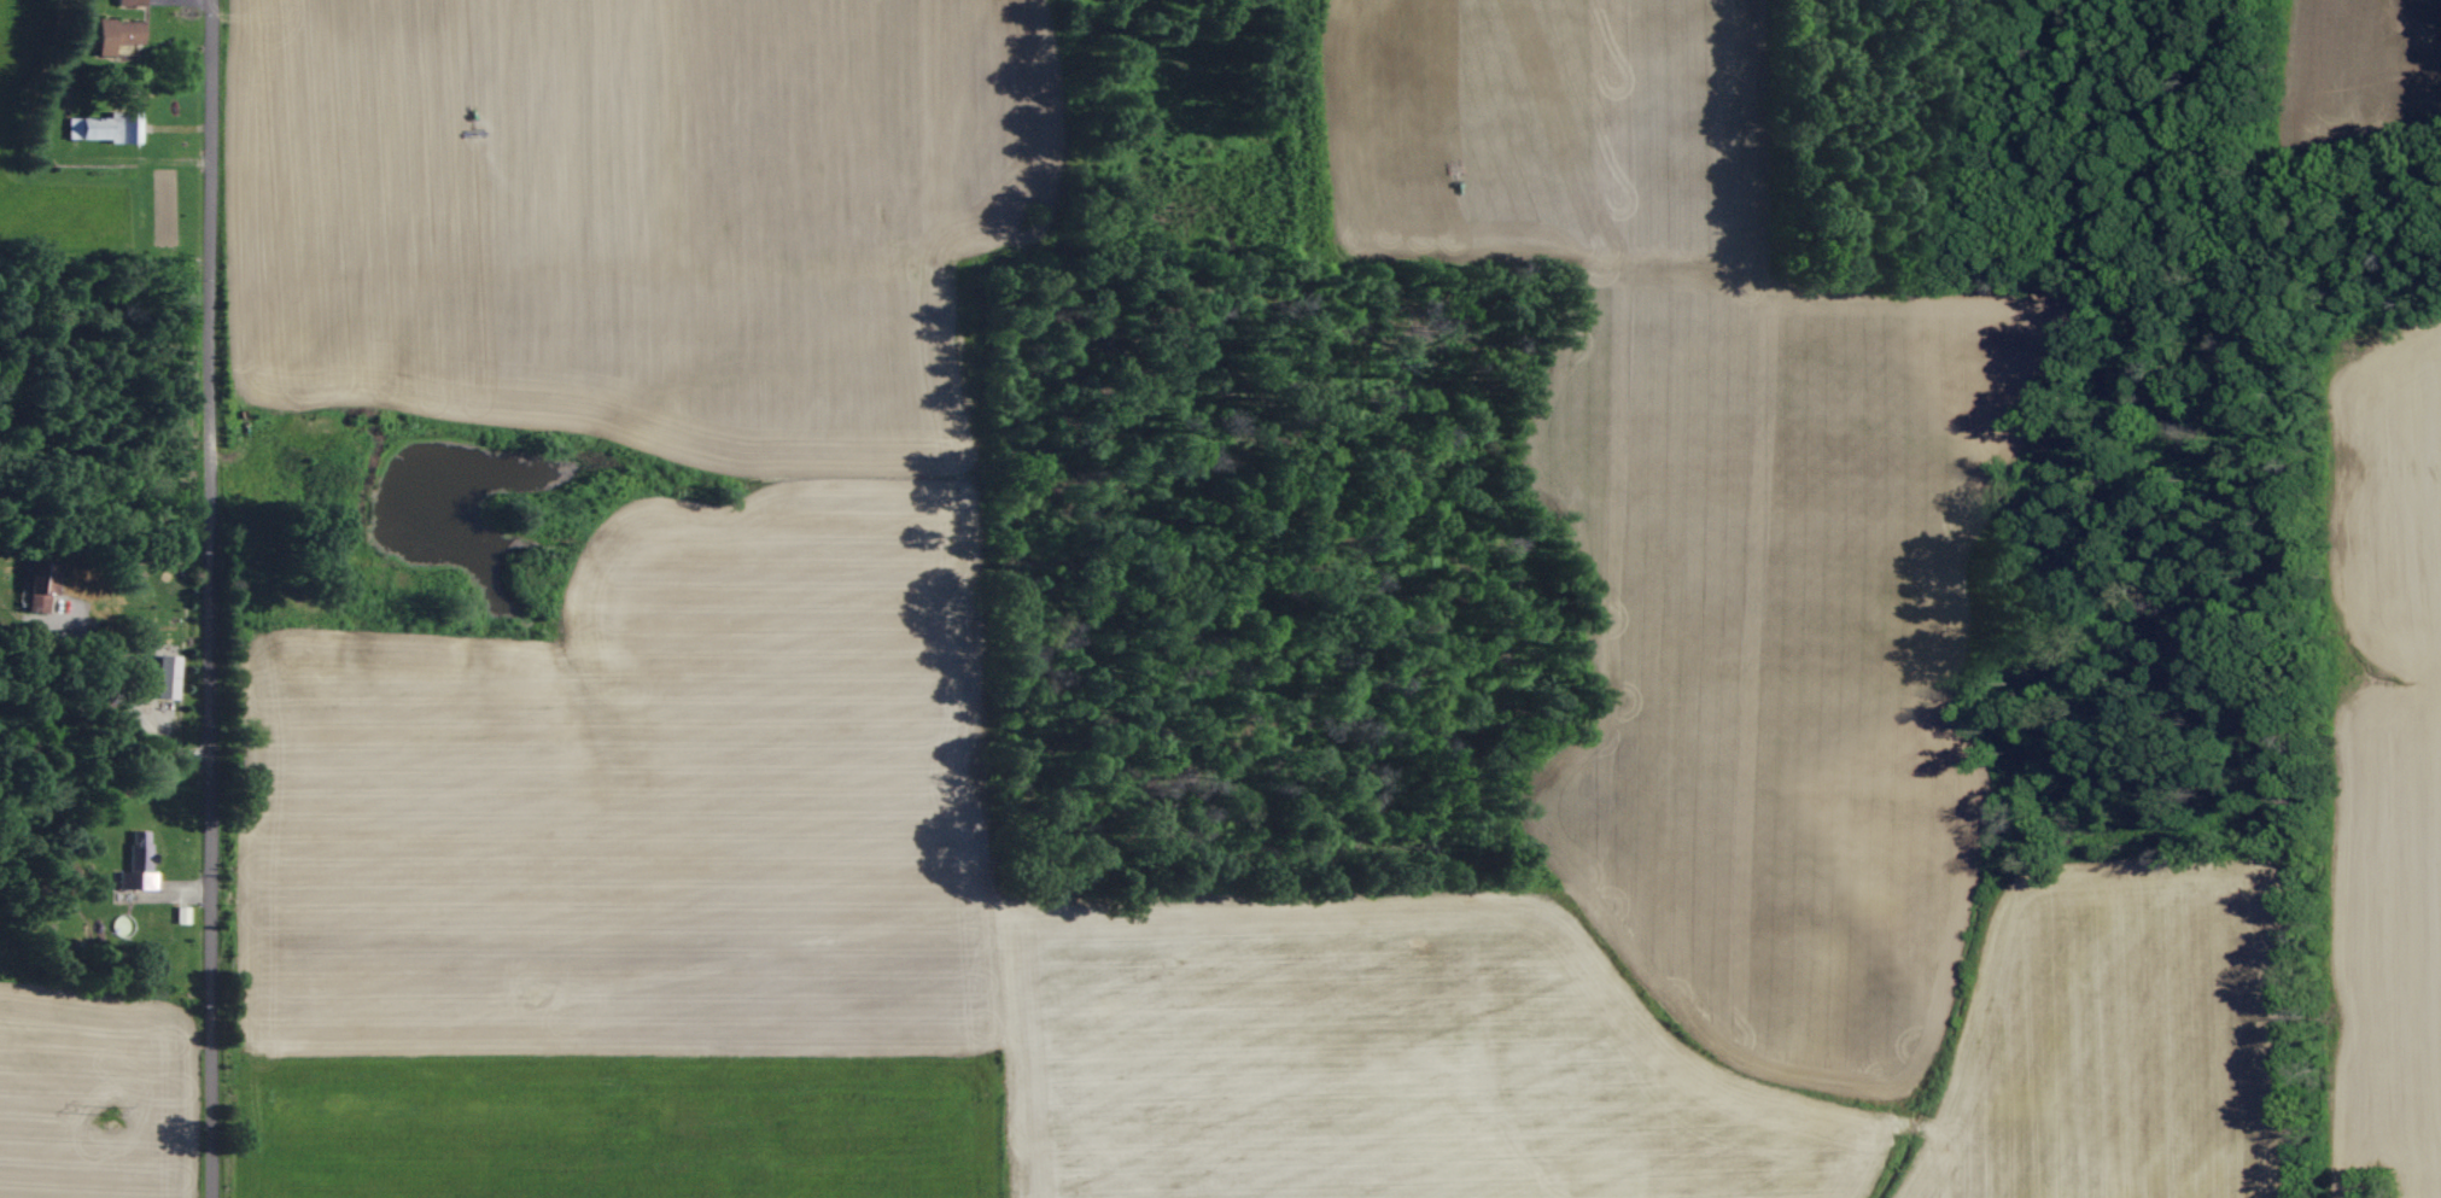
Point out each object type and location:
building: (118, 34)
building: (104, 128)
building: (41, 584)
road: (206, 598)
building: (168, 674)
road: (121, 703)
building: (140, 858)
power tower: (106, 1117)

